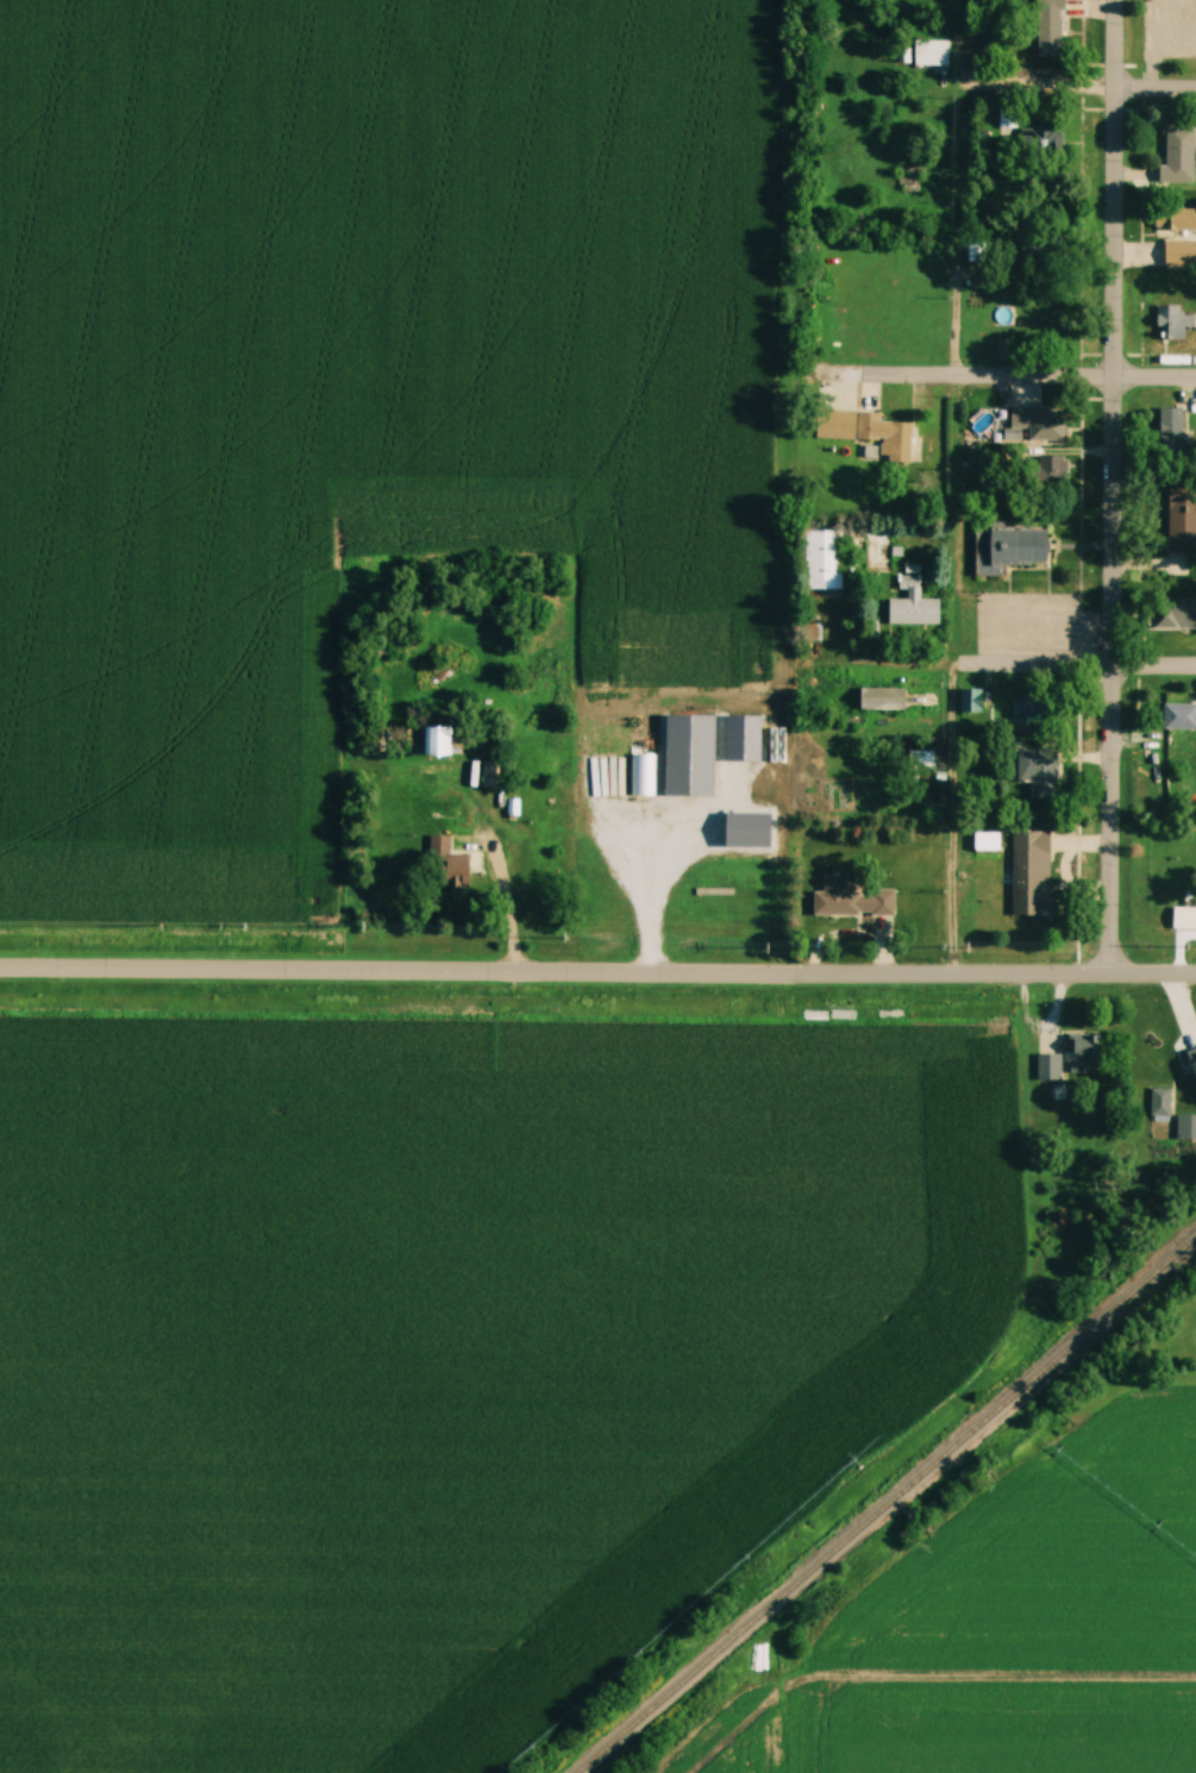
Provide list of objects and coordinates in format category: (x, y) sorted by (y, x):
building: (1048, 29)
road: (1154, 43)
building: (932, 51)
building: (978, 56)
road: (1157, 87)
building: (1029, 144)
building: (1178, 155)
building: (1175, 220)
building: (1179, 253)
building: (1172, 322)
building: (1048, 327)
building: (1004, 349)
road: (1034, 376)
building: (1040, 424)
building: (1170, 431)
building: (866, 432)
building: (1052, 468)
road: (1115, 487)
building: (1181, 521)
building: (1009, 549)
building: (824, 559)
building: (913, 606)
building: (1181, 614)
road: (907, 663)
road: (1078, 664)
building: (883, 697)
building: (970, 700)
building: (1027, 709)
building: (1181, 714)
building: (434, 739)
building: (643, 772)
building: (1038, 772)
building: (494, 773)
road: (957, 819)
building: (987, 841)
building: (446, 864)
building: (1029, 870)
road: (655, 894)
building: (850, 898)
road: (513, 900)
road: (597, 972)
building: (1152, 1050)
building: (1082, 1052)
building: (1047, 1065)
building: (1158, 1101)
building: (1185, 1124)
crop: (442, 1355)
railway: (889, 1508)
crop: (1054, 1558)
crop: (970, 1733)

